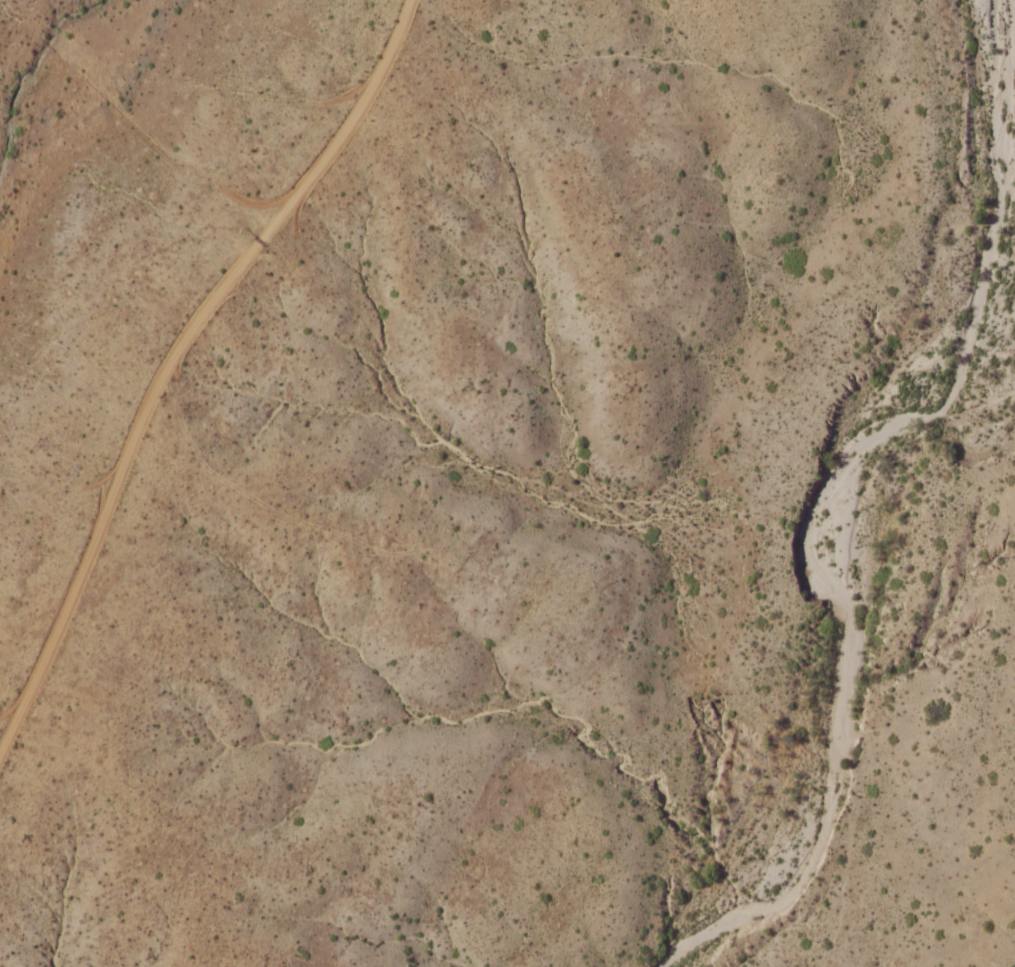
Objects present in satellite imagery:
road: (174, 360)

